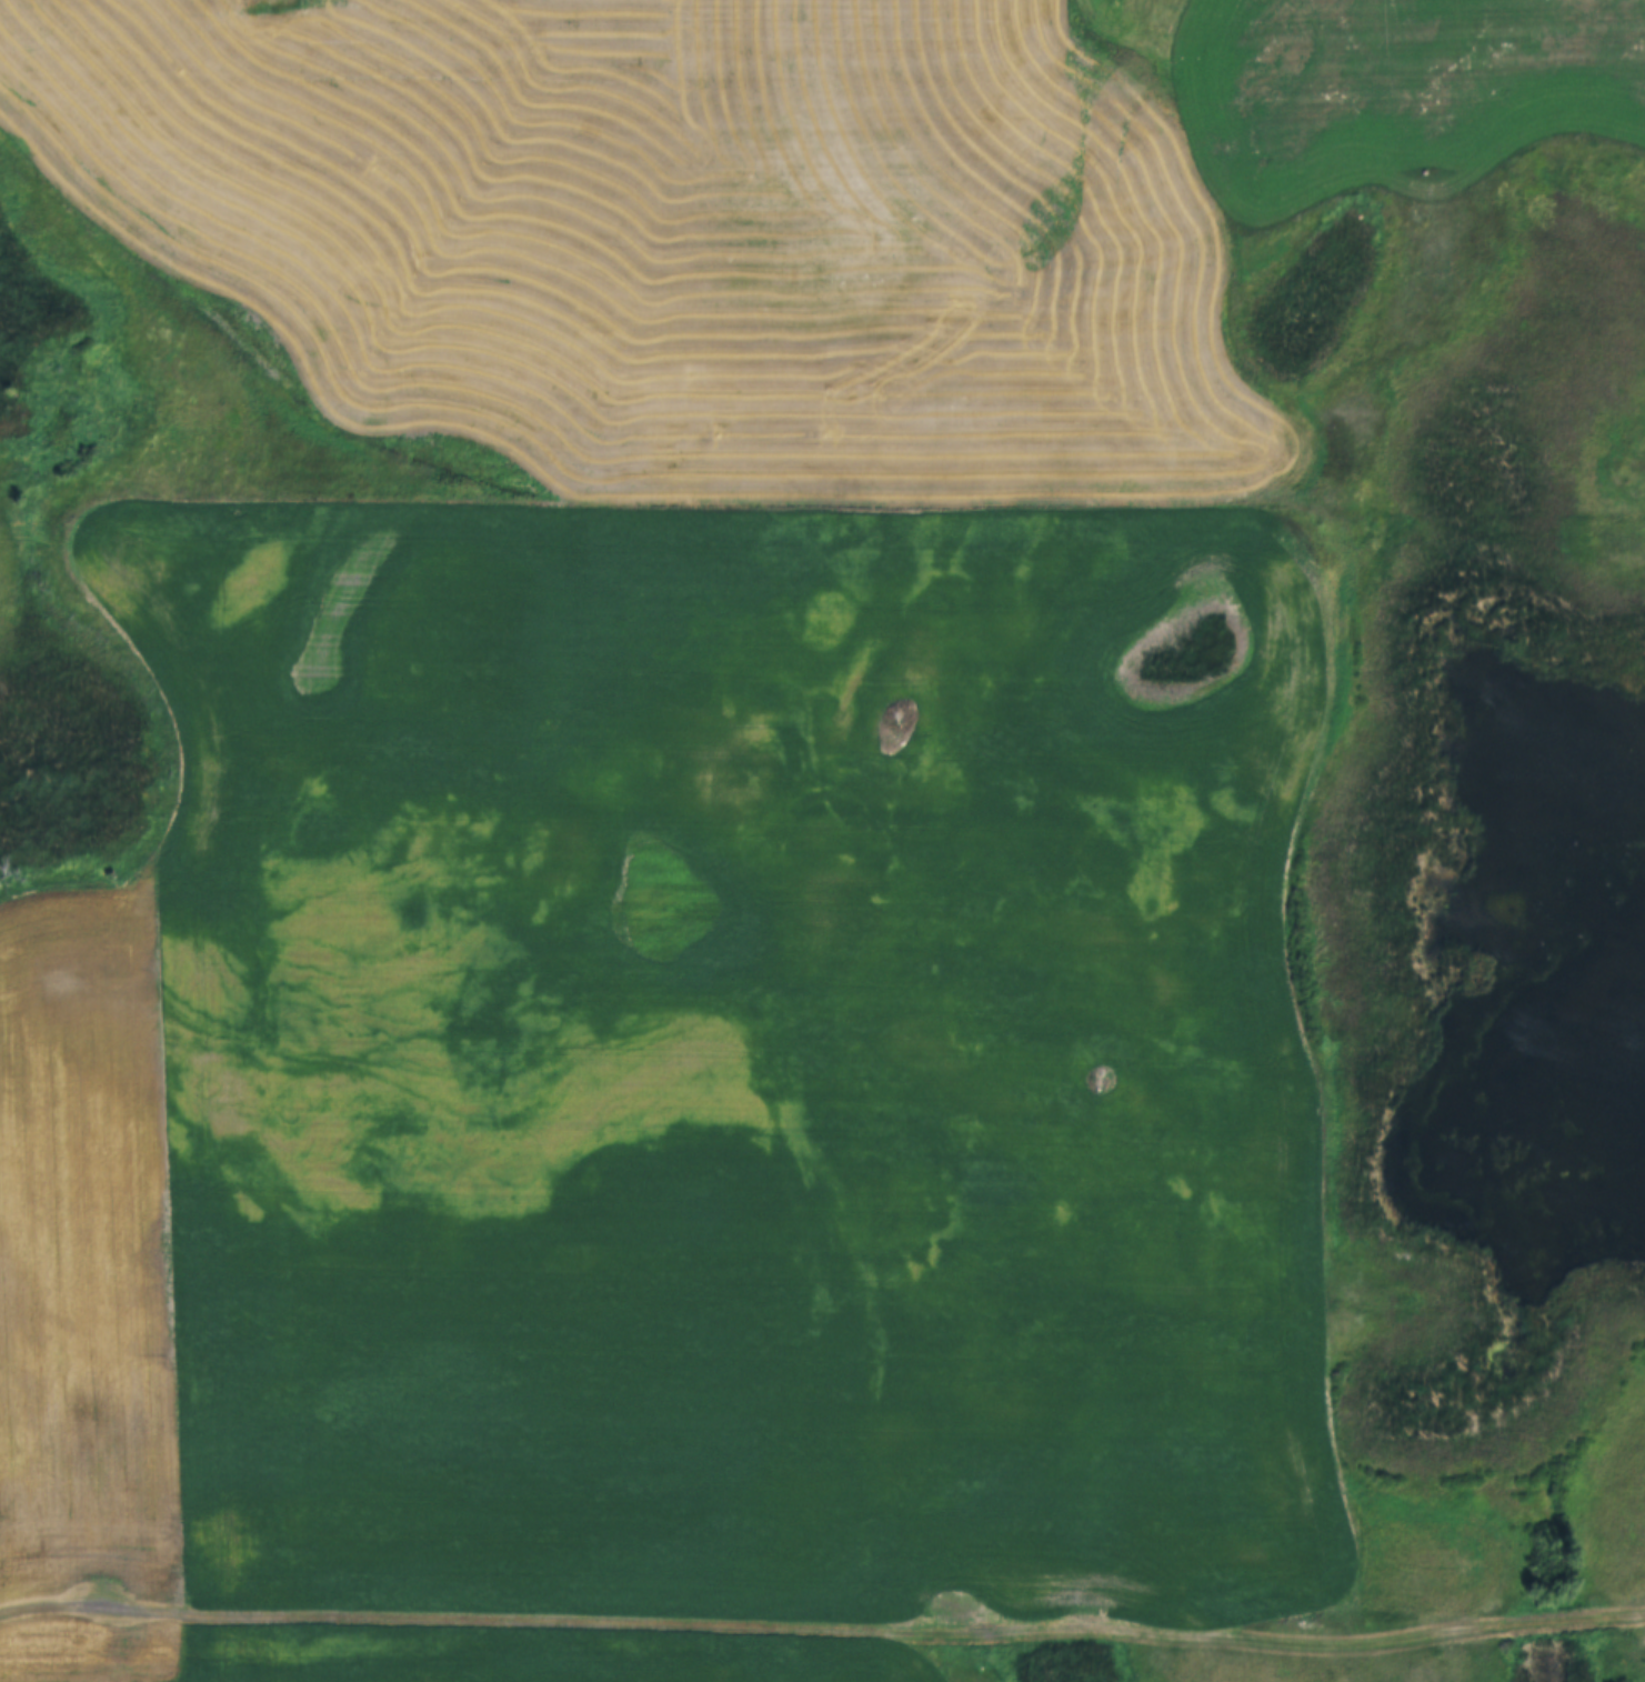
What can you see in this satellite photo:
road: (823, 1634)

